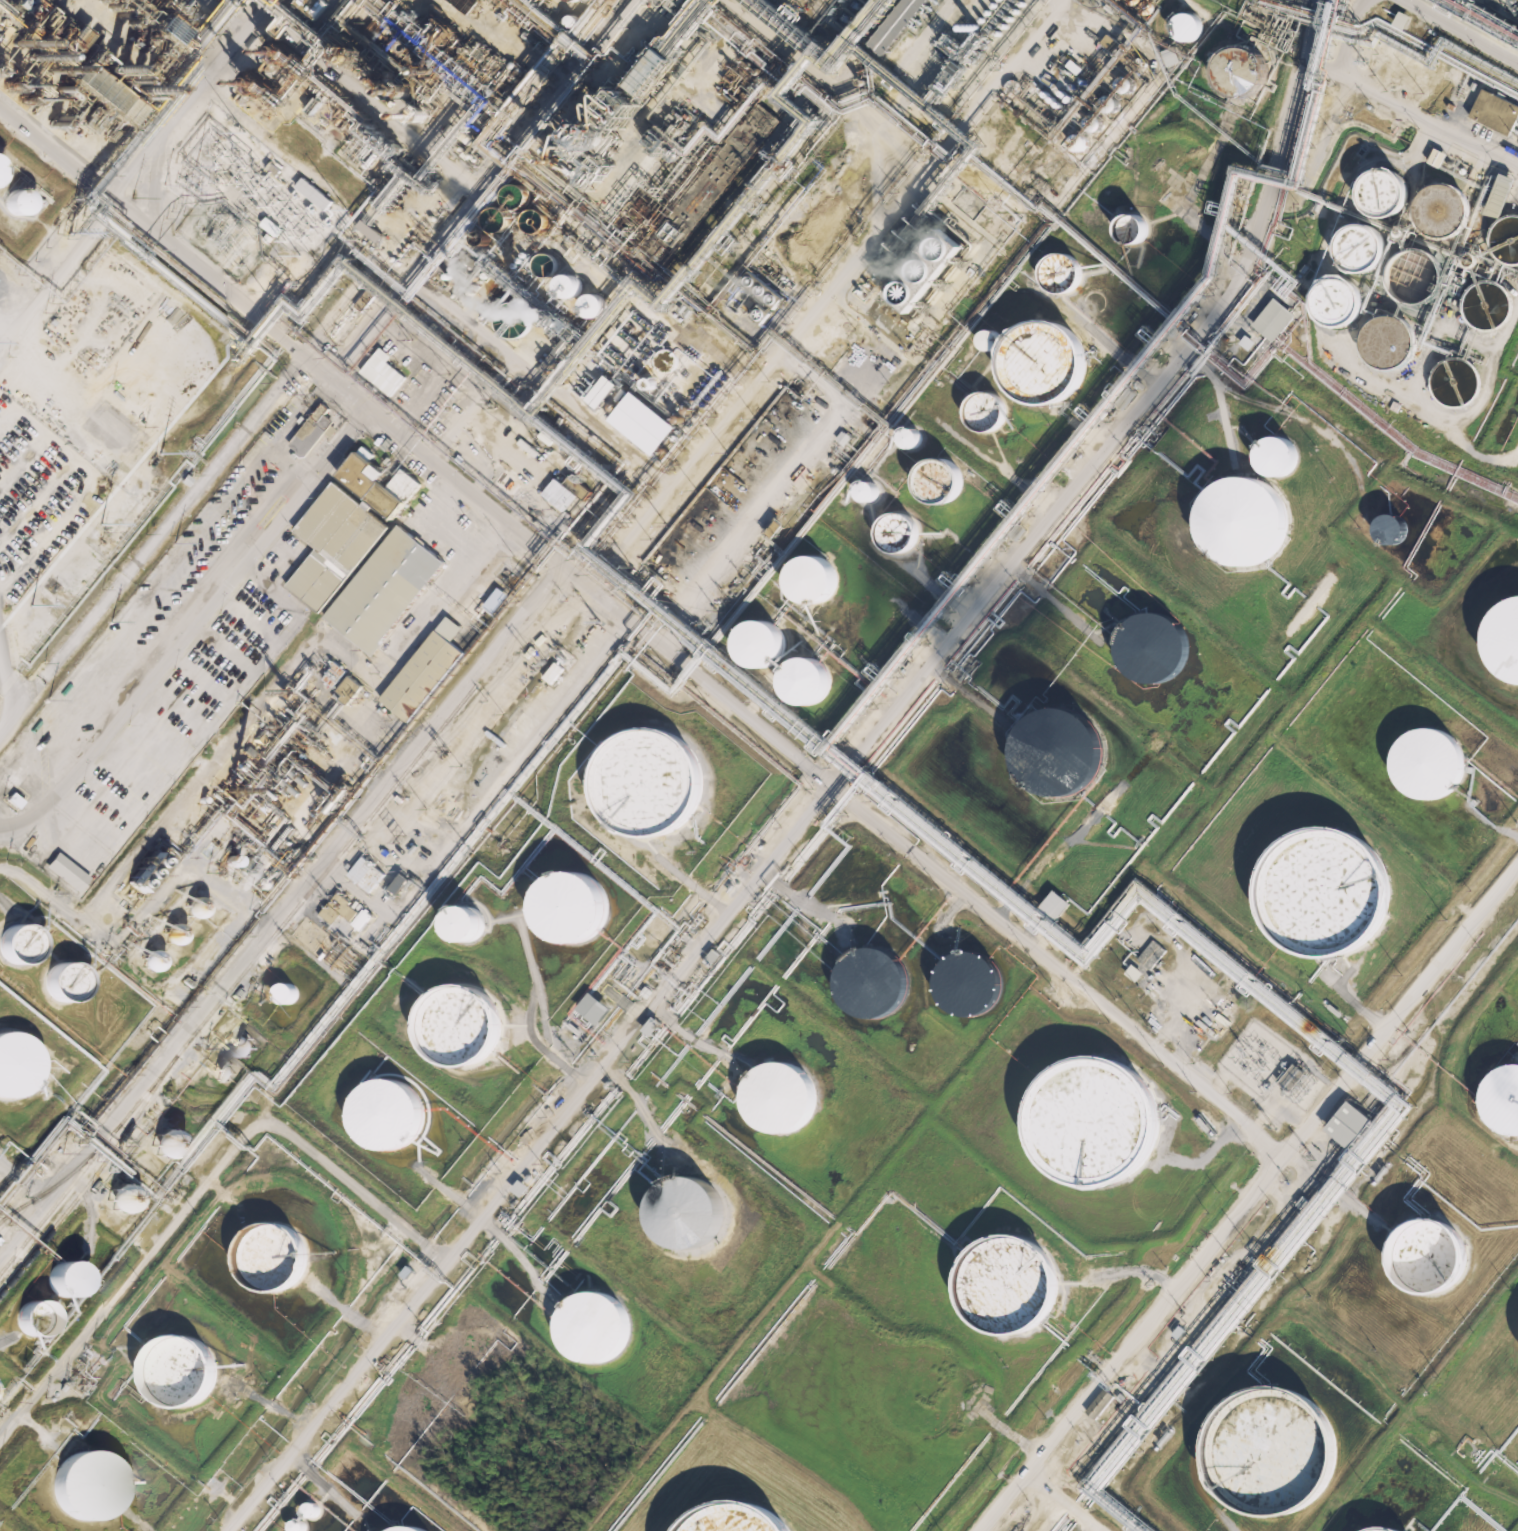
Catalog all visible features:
building: (1401, 19)
building: (891, 24)
building: (1177, 27)
road: (1463, 29)
road: (1346, 35)
building: (1109, 42)
building: (1226, 72)
building: (1117, 85)
building: (1102, 103)
building: (1111, 103)
road: (1415, 110)
building: (1491, 112)
building: (1085, 124)
building: (1097, 124)
building: (1079, 141)
building: (1070, 143)
building: (1434, 158)
building: (311, 188)
building: (1040, 188)
building: (1371, 193)
power substation: (244, 196)
building: (515, 196)
building: (1494, 196)
building: (11, 201)
building: (1433, 211)
building: (268, 219)
building: (536, 220)
building: (272, 226)
building: (367, 228)
building: (1126, 229)
building: (814, 230)
building: (1503, 240)
building: (1350, 248)
building: (1464, 261)
building: (928, 269)
road: (63, 270)
building: (909, 271)
building: (1053, 273)
building: (1407, 277)
building: (560, 287)
building: (756, 290)
building: (1327, 302)
building: (1481, 306)
building: (586, 307)
building: (1270, 320)
building: (520, 324)
building: (988, 339)
building: (979, 340)
building: (1247, 342)
building: (1380, 343)
building: (664, 361)
building: (1028, 364)
building: (381, 372)
building: (584, 383)
building: (1449, 383)
building: (623, 401)
building: (976, 412)
building: (308, 432)
building: (910, 436)
building: (899, 439)
building: (656, 440)
building: (1264, 458)
building: (509, 479)
building: (925, 482)
building: (577, 486)
building: (363, 487)
building: (868, 490)
building: (856, 493)
building: (1228, 523)
storage tank: (1228, 523)
building: (1391, 529)
building: (1378, 531)
building: (887, 534)
road: (156, 540)
building: (330, 546)
building: (796, 582)
building: (379, 591)
building: (496, 599)
road: (195, 625)
road: (638, 627)
building: (1497, 642)
storage tank: (1497, 642)
building: (746, 646)
building: (1142, 649)
storage tank: (1142, 649)
building: (334, 674)
building: (417, 677)
building: (791, 683)
building: (350, 688)
building: (1044, 753)
storage tank: (1044, 753)
building: (1433, 761)
storage tank: (1433, 761)
road: (820, 793)
building: (648, 795)
building: (13, 800)
railway: (368, 818)
building: (232, 860)
building: (132, 874)
building: (367, 874)
building: (400, 883)
building: (1329, 889)
storage tank: (1329, 889)
building: (1056, 904)
building: (574, 905)
storage tank: (574, 905)
building: (196, 907)
road: (276, 908)
building: (338, 909)
building: (362, 919)
building: (468, 921)
building: (174, 933)
building: (14, 946)
building: (1151, 955)
building: (152, 960)
building: (1134, 973)
building: (874, 982)
building: (969, 982)
building: (58, 984)
building: (287, 992)
building: (1217, 995)
building: (1204, 999)
building: (596, 1008)
building: (462, 1024)
storage tank: (462, 1024)
building: (1206, 1024)
building: (245, 1045)
building: (13, 1063)
building: (225, 1071)
building: (1291, 1077)
building: (782, 1096)
storage tank: (782, 1096)
building: (1505, 1098)
building: (389, 1113)
storage tank: (389, 1113)
building: (1098, 1119)
storage tank: (1098, 1119)
building: (1351, 1124)
building: (167, 1143)
railway: (58, 1183)
building: (520, 1187)
building: (122, 1198)
road: (1246, 1198)
building: (690, 1211)
storage tank: (690, 1211)
building: (1435, 1254)
building: (274, 1257)
storage tank: (274, 1257)
building: (67, 1278)
building: (1011, 1284)
storage tank: (1011, 1284)
building: (35, 1318)
building: (596, 1326)
storage tank: (596, 1326)
building: (181, 1371)
storage tank: (181, 1371)
building: (1100, 1402)
building: (1276, 1450)
building: (88, 1487)
storage tank: (88, 1487)
road: (1073, 1495)
building: (312, 1510)
building: (738, 1519)
storage tank: (738, 1519)
building: (298, 1526)
building: (409, 1529)
storage tank: (409, 1529)
building: (1386, 1529)

